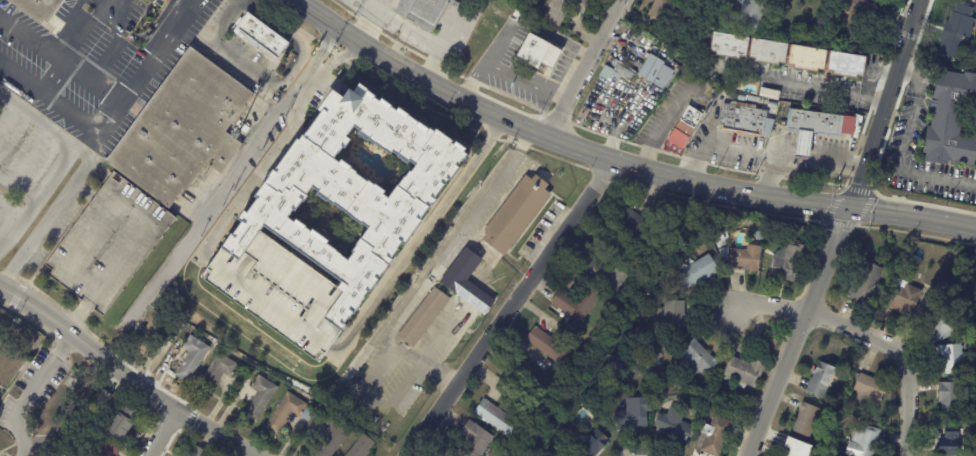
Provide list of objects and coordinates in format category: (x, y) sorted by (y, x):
road: (244, 0)
building: (165, 1)
building: (395, 5)
road: (366, 7)
building: (39, 8)
building: (565, 9)
building: (425, 12)
building: (750, 12)
building: (667, 13)
road: (319, 15)
road: (229, 20)
road: (371, 20)
building: (860, 21)
building: (957, 31)
building: (259, 34)
road: (140, 35)
road: (288, 36)
road: (32, 37)
building: (820, 38)
road: (193, 39)
road: (75, 43)
road: (327, 47)
building: (733, 47)
building: (542, 52)
road: (594, 52)
building: (772, 54)
road: (341, 57)
building: (811, 60)
road: (244, 61)
road: (146, 64)
building: (850, 67)
road: (319, 68)
road: (21, 72)
building: (657, 72)
building: (617, 73)
road: (508, 75)
road: (915, 77)
road: (92, 80)
road: (805, 81)
building: (770, 94)
building: (740, 97)
building: (755, 100)
building: (772, 105)
road: (71, 108)
road: (7, 112)
road: (555, 120)
building: (746, 120)
building: (952, 122)
building: (821, 126)
building: (685, 128)
gas station: (813, 129)
building: (179, 130)
road: (659, 131)
road: (905, 131)
road: (699, 158)
road: (62, 160)
road: (262, 163)
road: (806, 163)
road: (645, 167)
building: (832, 175)
road: (936, 177)
road: (224, 187)
road: (16, 188)
road: (9, 212)
road: (53, 212)
traffic signals: (854, 212)
building: (636, 224)
building: (278, 228)
road: (844, 232)
road: (418, 239)
building: (722, 240)
building: (498, 241)
building: (107, 243)
parking lot: (107, 243)
building: (913, 247)
building: (746, 259)
building: (917, 259)
building: (787, 263)
building: (903, 268)
building: (696, 274)
building: (603, 275)
building: (866, 281)
building: (904, 299)
building: (219, 300)
building: (577, 304)
road: (405, 306)
road: (767, 306)
road: (510, 310)
building: (423, 317)
building: (673, 318)
building: (939, 326)
building: (155, 331)
building: (552, 347)
road: (88, 348)
road: (900, 353)
building: (955, 358)
building: (192, 359)
building: (698, 360)
building: (614, 364)
building: (651, 364)
building: (745, 373)
building: (217, 374)
building: (823, 378)
building: (532, 379)
building: (869, 389)
road: (28, 390)
building: (102, 397)
building: (260, 398)
building: (952, 398)
building: (727, 409)
building: (288, 413)
building: (693, 418)
building: (808, 418)
building: (500, 419)
building: (123, 422)
building: (630, 422)
building: (674, 425)
building: (969, 427)
road: (161, 433)
road: (217, 433)
building: (716, 437)
building: (334, 438)
building: (475, 441)
building: (864, 442)
building: (950, 442)
building: (591, 444)
building: (362, 447)
building: (798, 447)
building: (104, 448)
building: (198, 452)
building: (59, 454)

